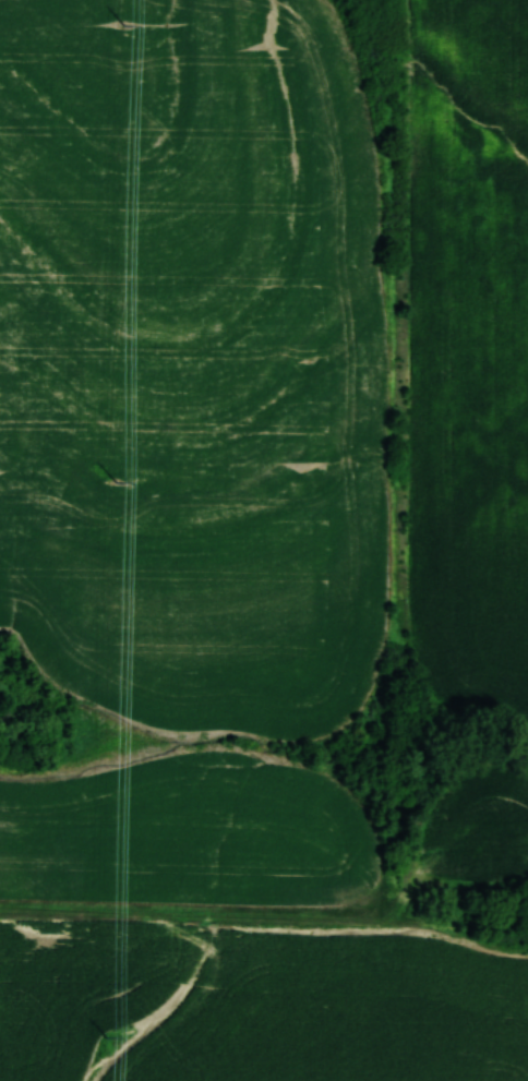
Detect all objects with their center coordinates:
power tower: (123, 28)
power tower: (116, 487)
power tower: (106, 1040)

